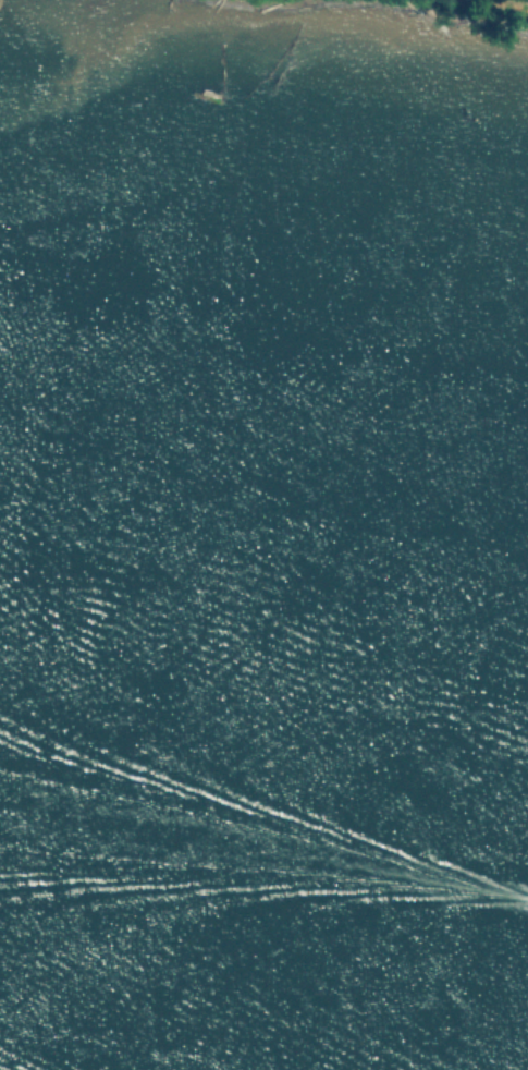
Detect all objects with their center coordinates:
river: (263, 898)

